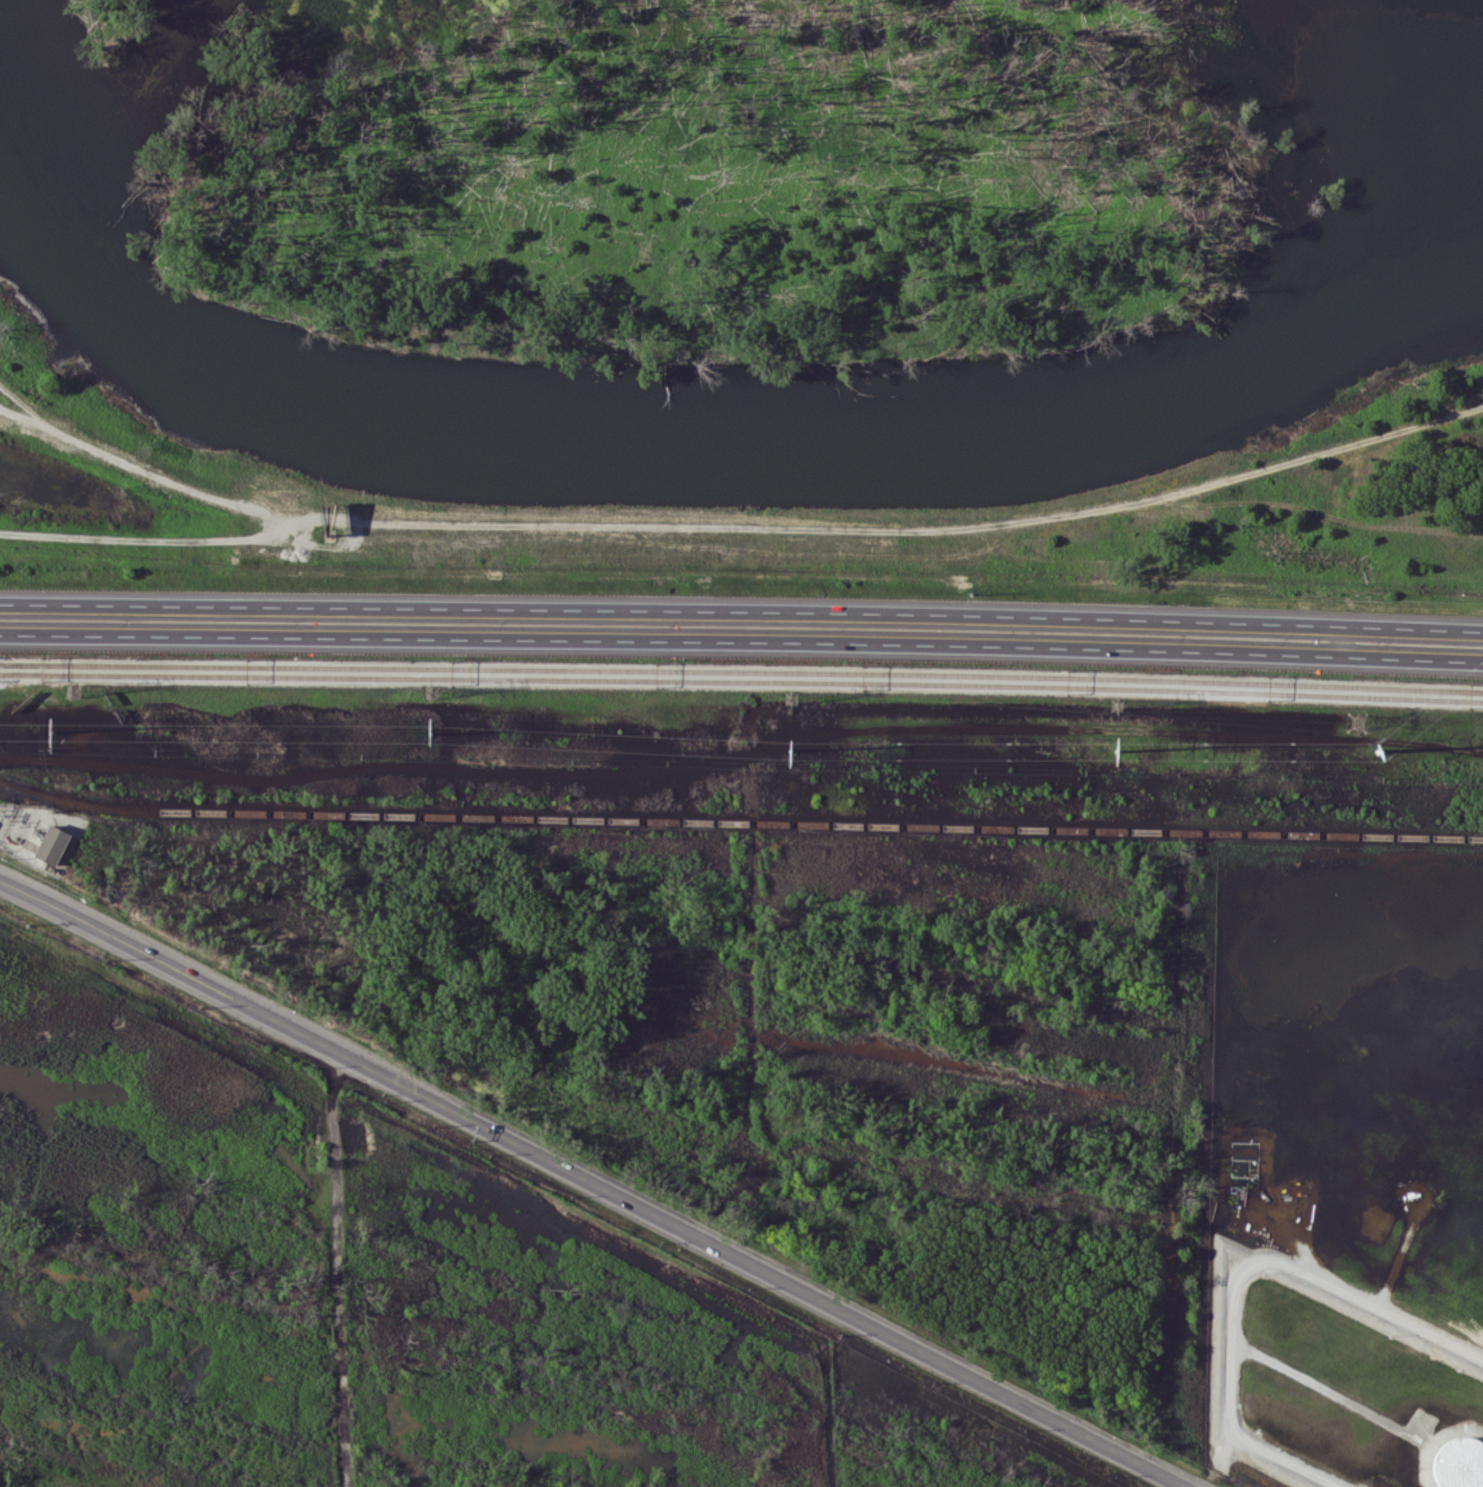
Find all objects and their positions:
road: (14, 413)
railway: (58, 427)
road: (136, 465)
river: (717, 469)
railway: (806, 517)
road: (190, 540)
road: (926, 556)
road: (741, 610)
road: (741, 640)
railway: (741, 672)
railway: (741, 685)
power tower: (53, 731)
power tower: (429, 732)
power tower: (788, 747)
power tower: (1115, 748)
power tower: (1377, 749)
railway: (739, 821)
building: (52, 844)
road: (592, 1181)
road: (1379, 1315)
building: (1458, 1462)

